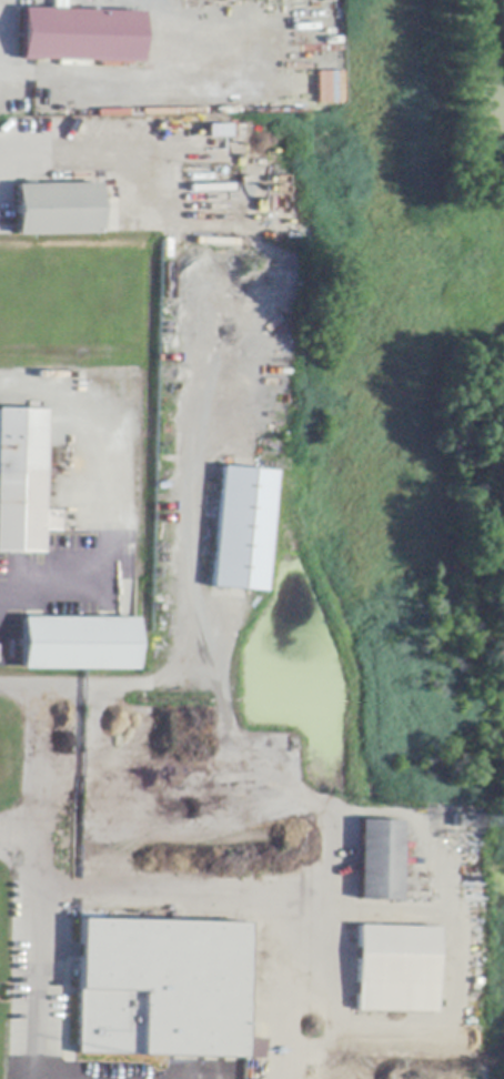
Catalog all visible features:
building: (81, 37)
building: (326, 85)
building: (215, 129)
road: (117, 152)
building: (58, 210)
road: (100, 452)
building: (23, 482)
building: (242, 531)
road: (189, 587)
road: (52, 591)
building: (79, 644)
road: (18, 836)
road: (34, 861)
building: (379, 861)
building: (395, 970)
building: (160, 989)

